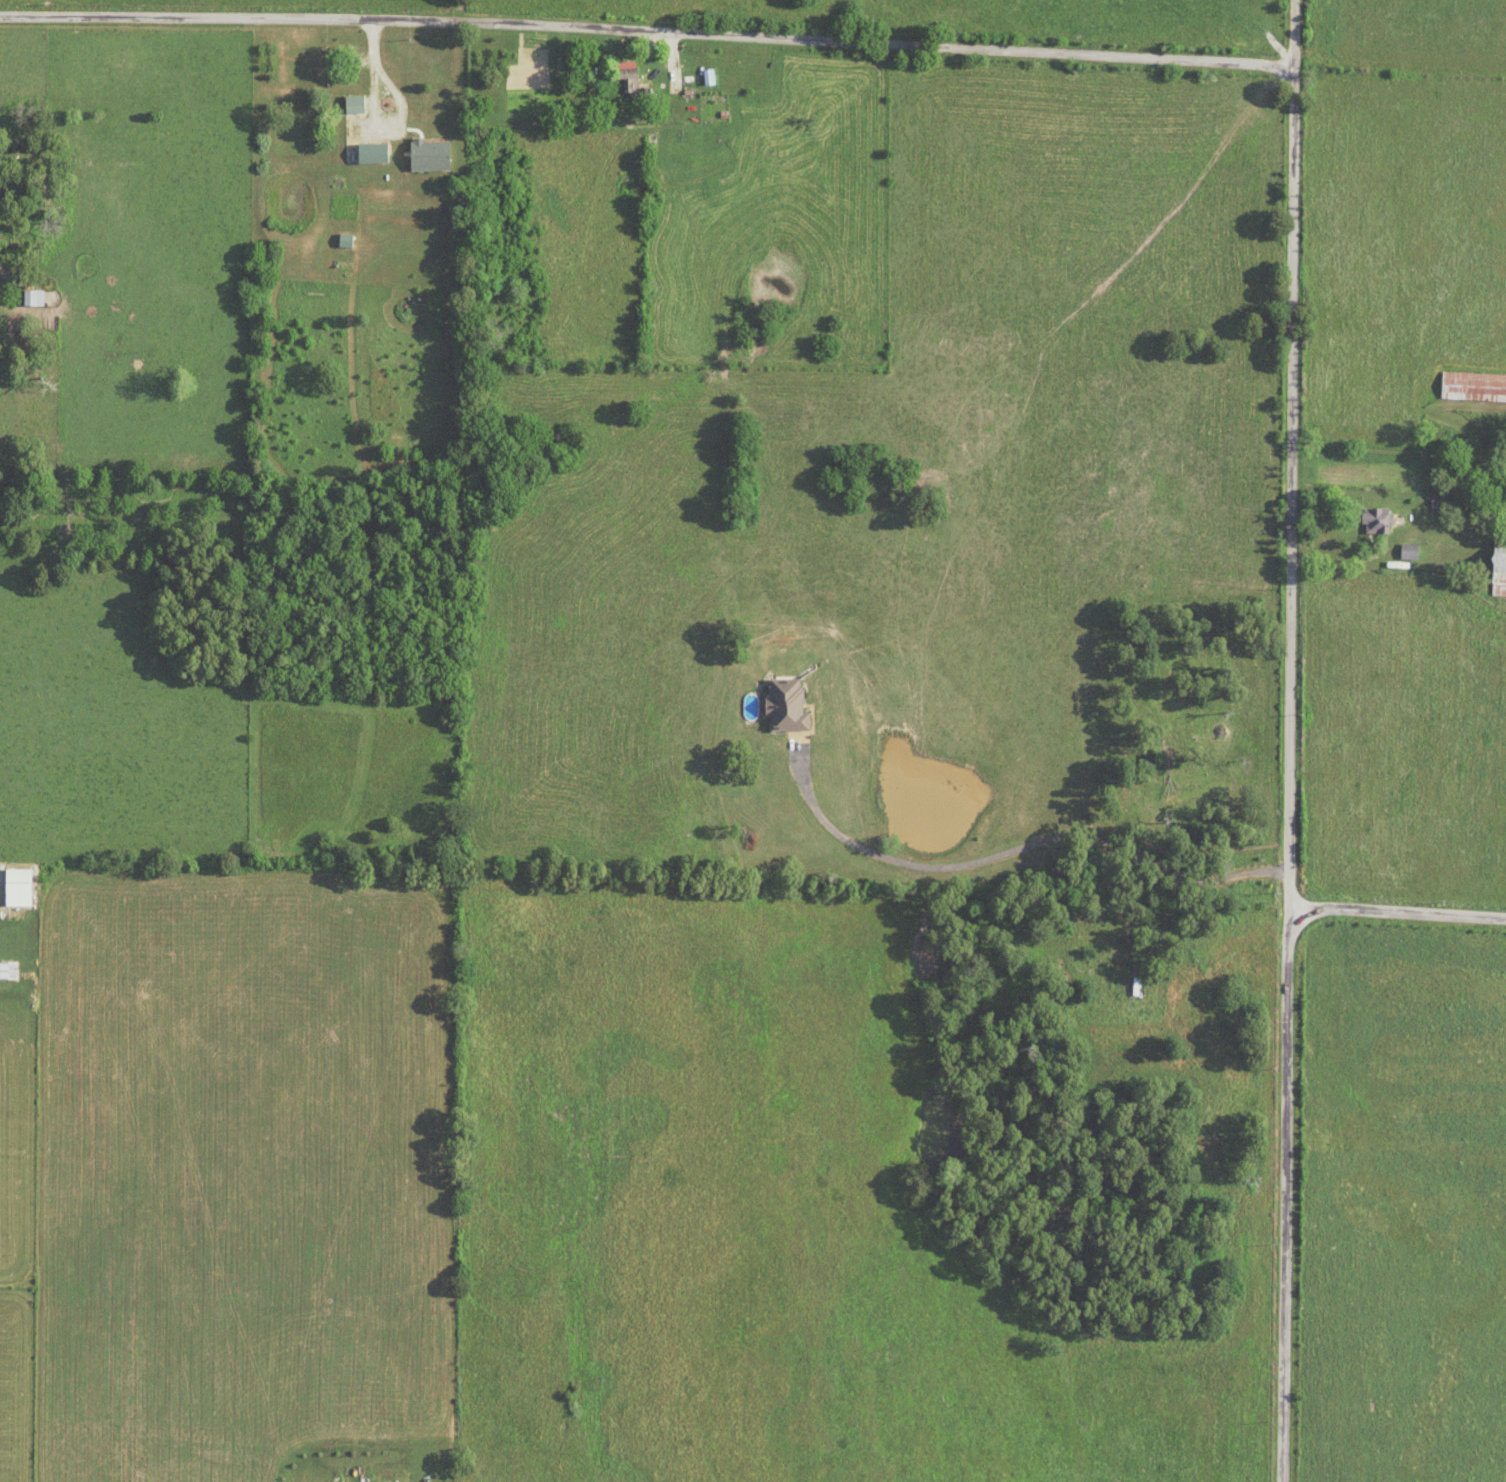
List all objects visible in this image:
road: (647, 33)
building: (627, 77)
building: (333, 91)
building: (354, 104)
building: (32, 298)
building: (1473, 387)
building: (1441, 505)
building: (1376, 521)
building: (1407, 552)
building: (1498, 567)
building: (784, 706)
road: (1293, 741)
road: (1022, 847)
building: (17, 887)
road: (1399, 913)
building: (8, 970)

